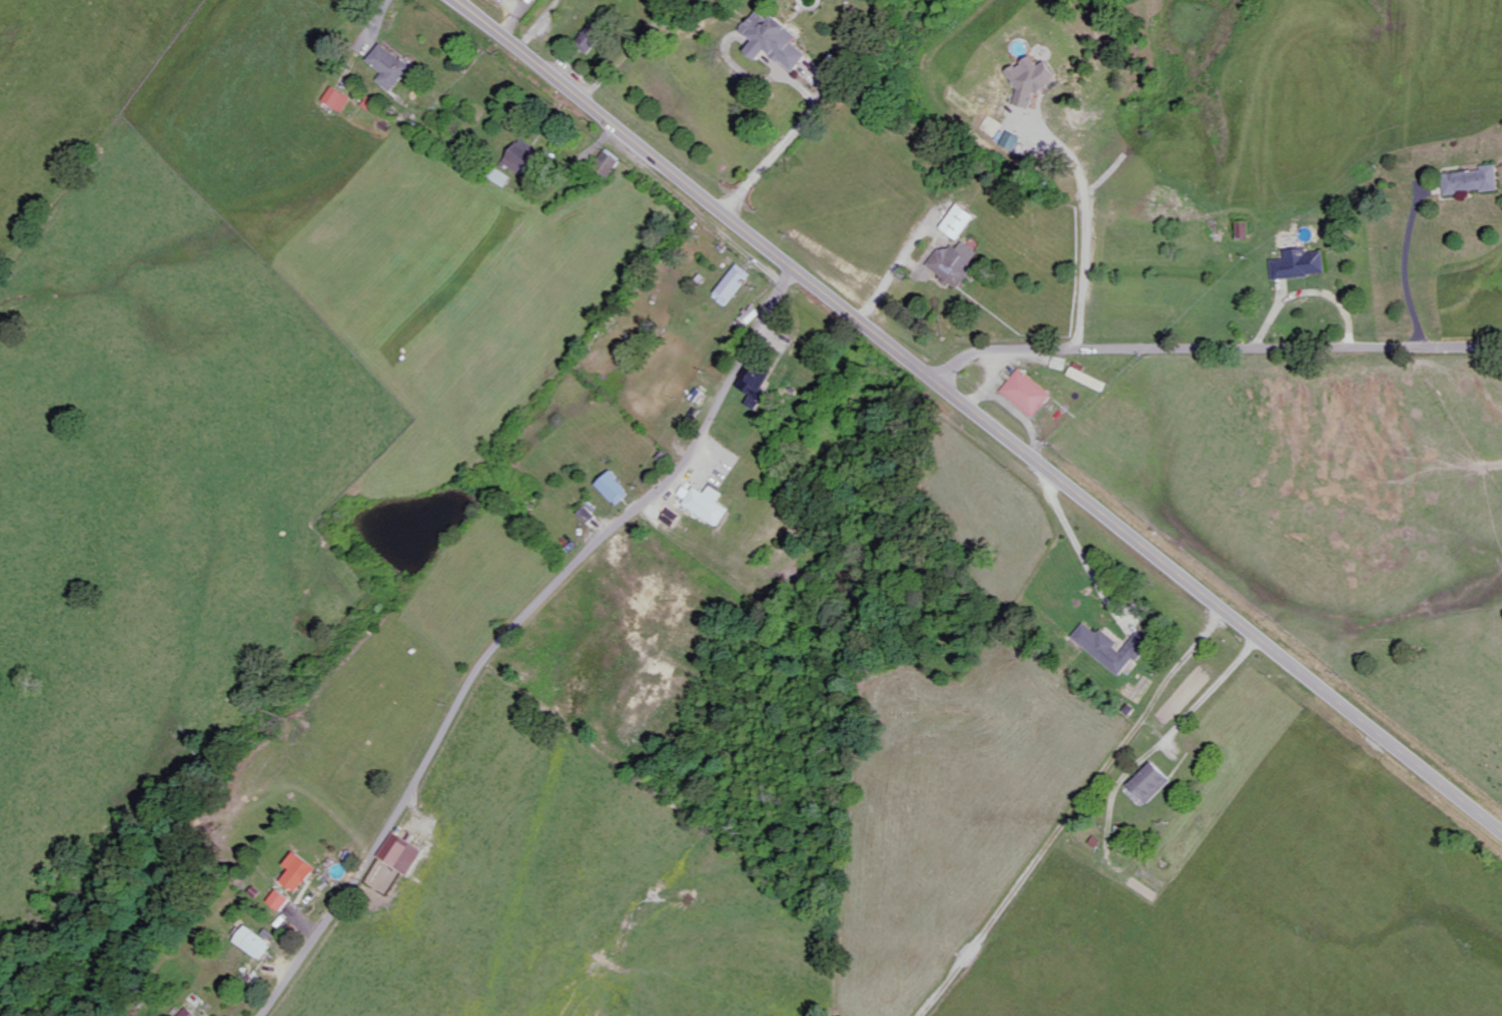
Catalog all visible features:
building: (592, 39)
building: (777, 41)
building: (393, 67)
building: (1034, 81)
building: (340, 100)
road: (783, 146)
building: (526, 161)
building: (611, 163)
building: (502, 178)
building: (1474, 181)
building: (961, 223)
road: (1083, 226)
building: (1247, 231)
building: (956, 264)
building: (1303, 265)
road: (1409, 268)
road: (892, 277)
building: (734, 286)
road: (1214, 350)
road: (997, 374)
building: (1089, 379)
building: (760, 386)
building: (1028, 394)
road: (1014, 410)
road: (979, 415)
building: (615, 488)
building: (708, 503)
building: (589, 515)
road: (1082, 551)
road: (514, 629)
building: (1116, 648)
road: (1214, 695)
building: (1153, 784)
building: (403, 853)
building: (301, 872)
building: (282, 900)
building: (256, 943)
building: (189, 1013)

